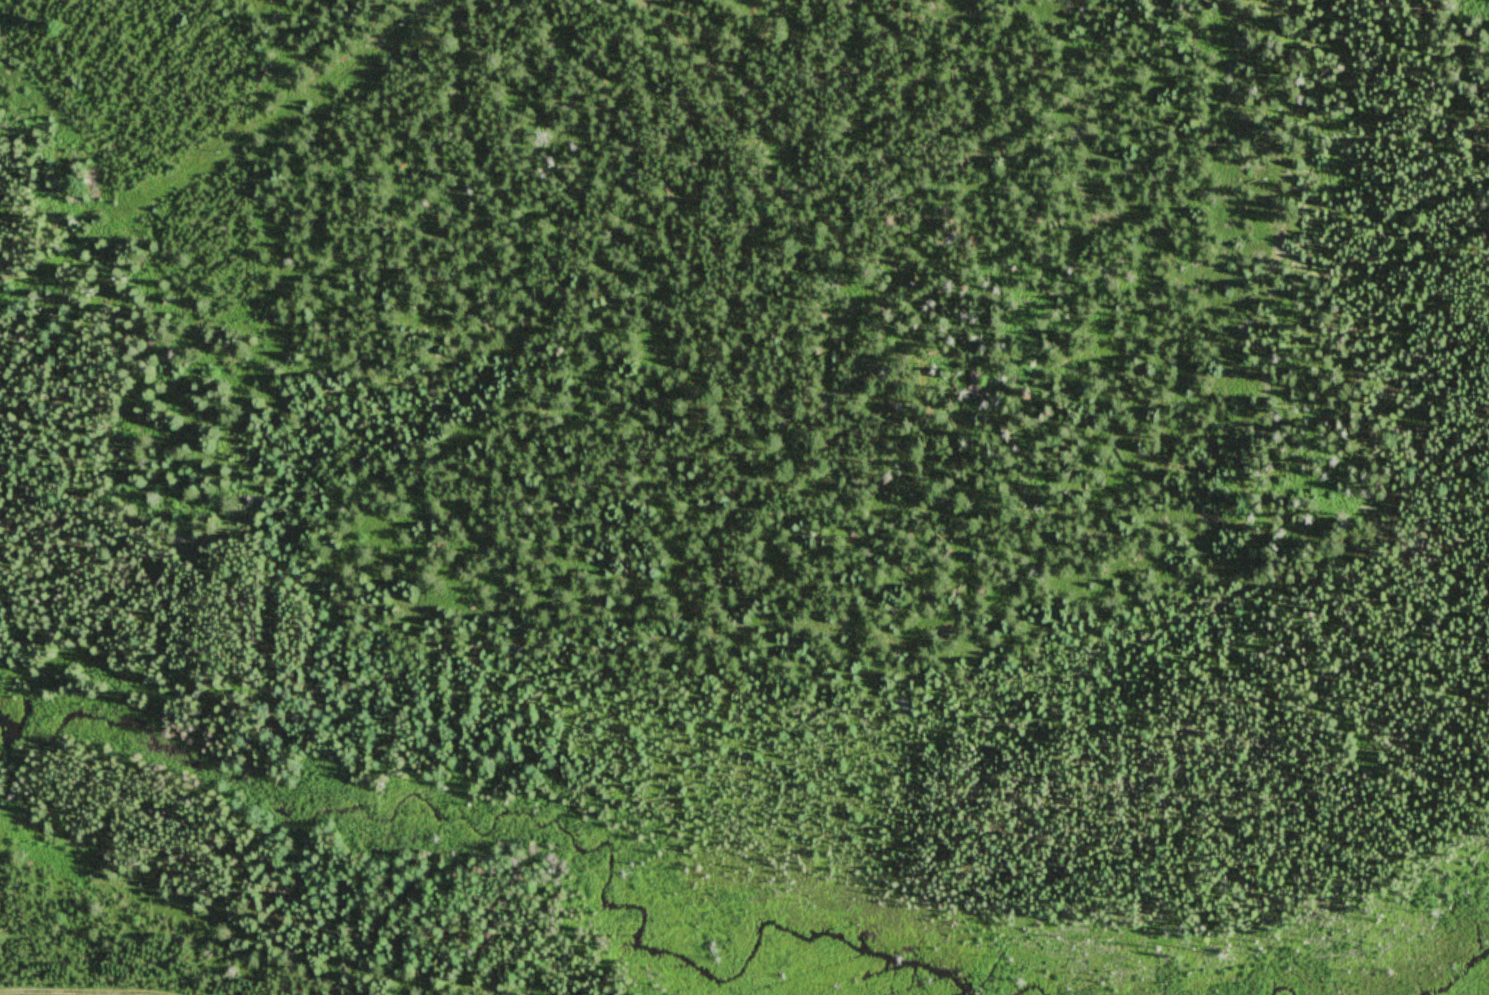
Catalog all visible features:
road: (801, 218)
road: (92, 988)

